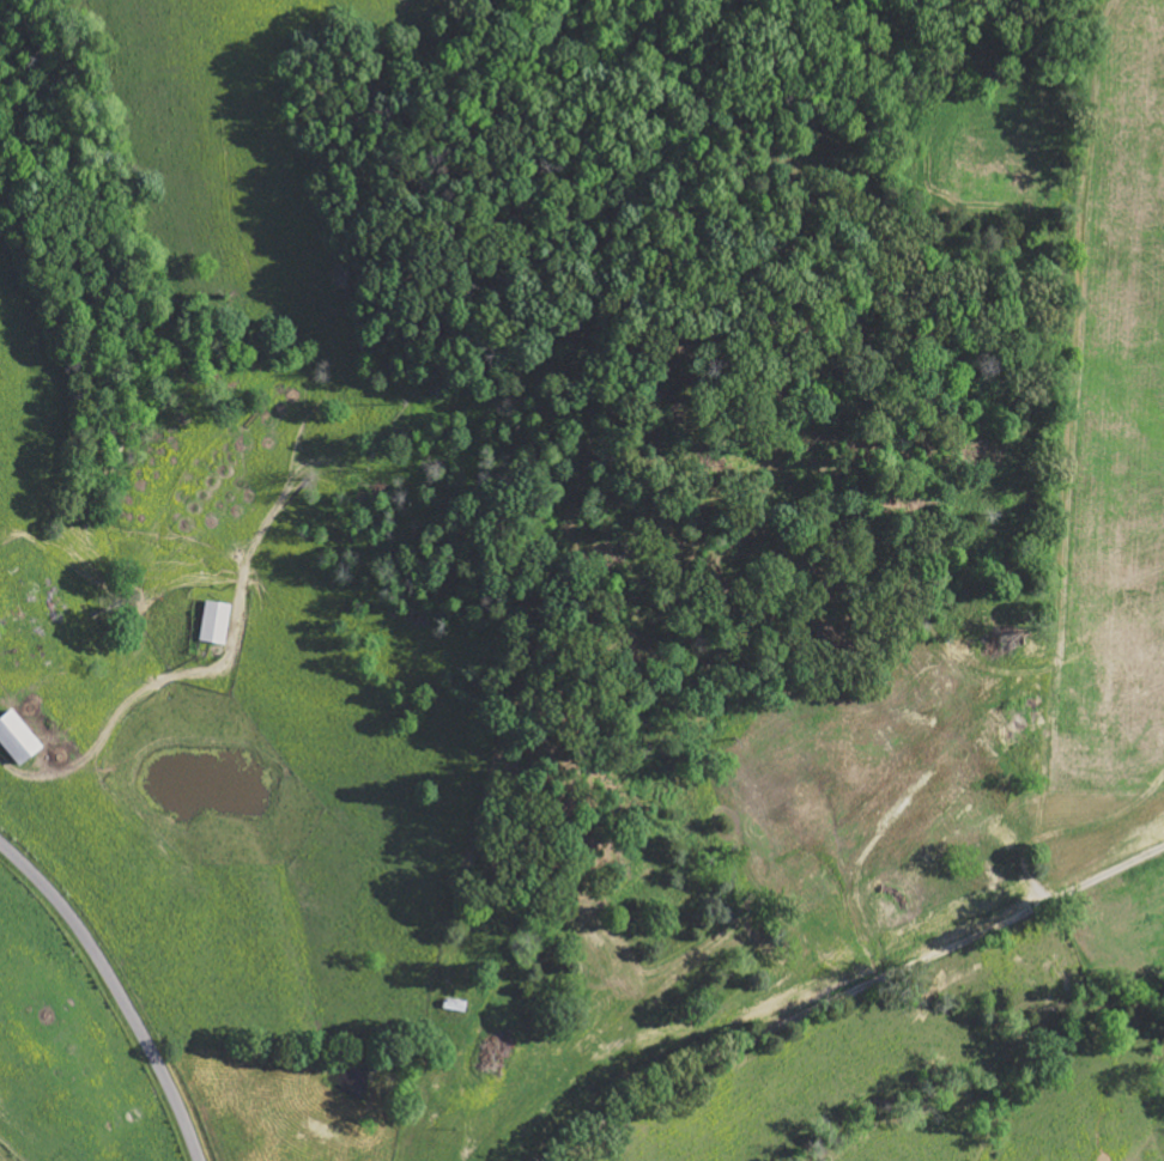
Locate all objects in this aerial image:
building: (217, 622)
building: (19, 737)
road: (115, 991)

